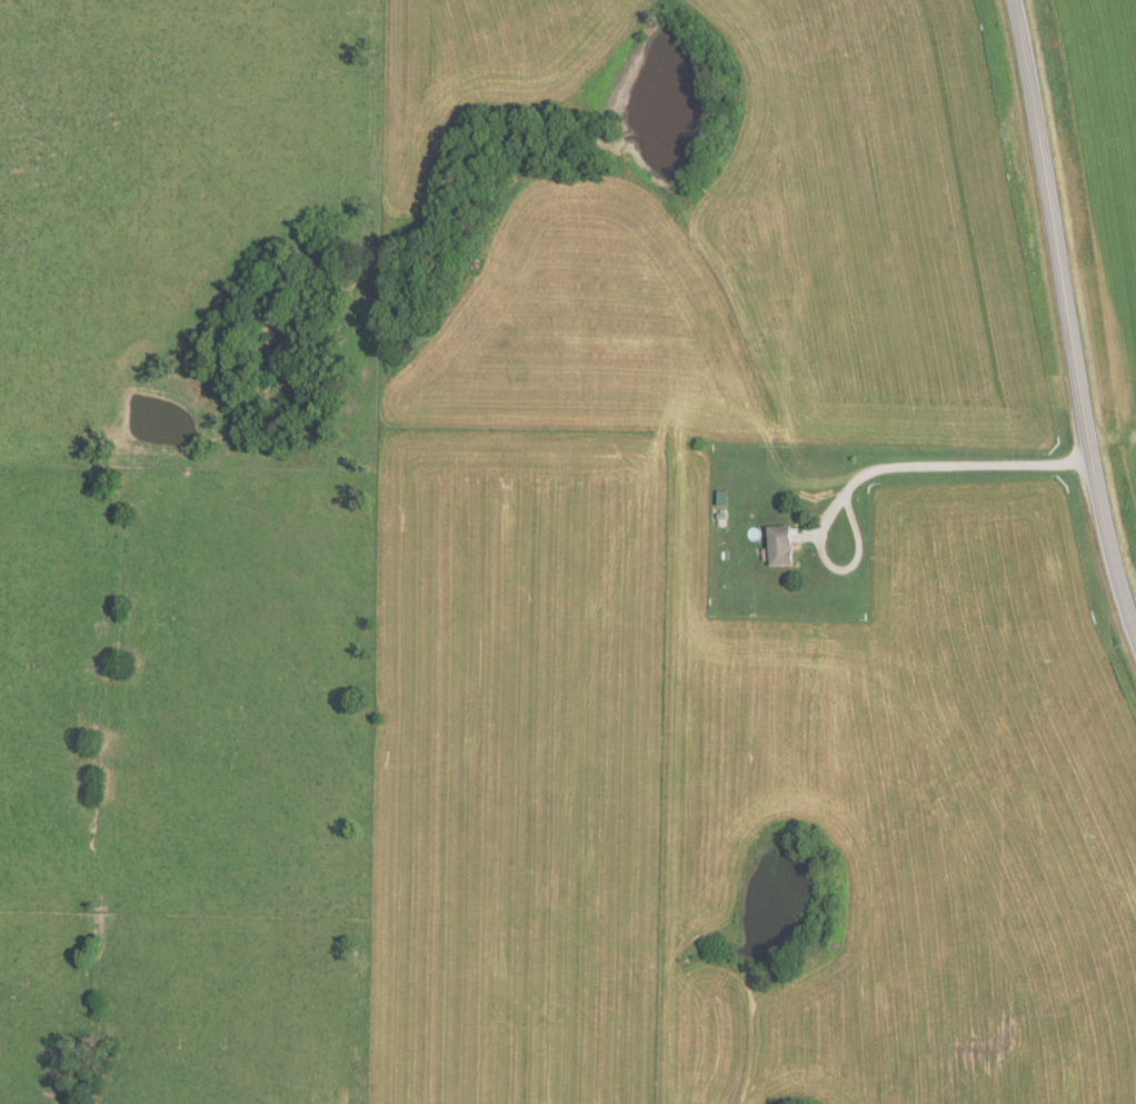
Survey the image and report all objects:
road: (1066, 319)
road: (958, 468)
road: (816, 544)
building: (784, 545)

